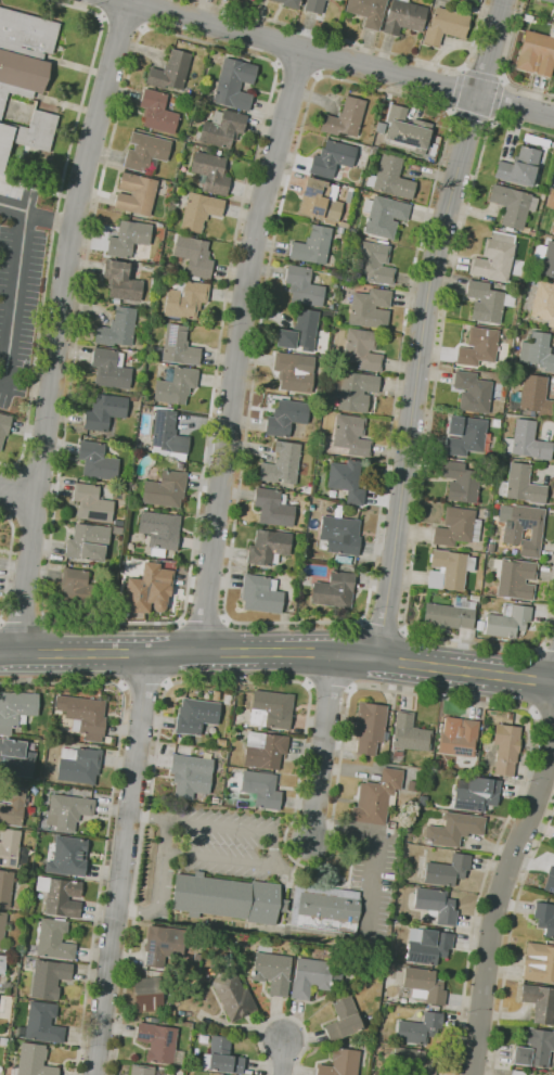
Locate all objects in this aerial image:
building: (338, 0)
building: (550, 1)
building: (288, 3)
building: (456, 3)
building: (312, 5)
building: (368, 11)
building: (553, 14)
building: (403, 17)
building: (527, 18)
road: (123, 23)
building: (445, 25)
road: (362, 44)
road: (490, 48)
building: (23, 53)
building: (536, 53)
road: (335, 59)
road: (505, 64)
building: (169, 72)
road: (482, 76)
building: (233, 85)
road: (456, 90)
road: (497, 99)
road: (433, 104)
building: (156, 112)
road: (471, 115)
building: (344, 118)
building: (221, 128)
building: (405, 131)
building: (27, 133)
building: (188, 139)
building: (536, 141)
building: (145, 152)
building: (332, 158)
building: (518, 167)
building: (209, 174)
building: (390, 178)
building: (134, 194)
building: (348, 196)
building: (550, 199)
building: (320, 202)
building: (512, 206)
building: (198, 212)
road: (36, 216)
building: (383, 216)
road: (55, 220)
building: (343, 225)
building: (553, 228)
building: (127, 239)
building: (370, 240)
building: (312, 246)
building: (193, 257)
building: (494, 257)
building: (545, 258)
building: (374, 263)
building: (120, 282)
building: (302, 286)
parking lot: (18, 289)
road: (16, 297)
building: (184, 300)
building: (486, 302)
building: (543, 303)
building: (370, 308)
road: (57, 325)
building: (117, 329)
building: (300, 333)
building: (175, 347)
building: (477, 347)
road: (239, 348)
building: (361, 349)
building: (537, 351)
building: (514, 364)
building: (349, 366)
building: (109, 369)
building: (291, 374)
road: (415, 375)
road: (24, 385)
building: (175, 385)
building: (352, 391)
building: (472, 392)
building: (532, 397)
building: (104, 412)
building: (286, 418)
building: (3, 426)
building: (167, 435)
building: (350, 435)
building: (464, 435)
road: (427, 441)
building: (527, 441)
building: (95, 461)
building: (281, 463)
building: (179, 465)
building: (346, 479)
building: (460, 482)
building: (520, 485)
building: (164, 489)
road: (18, 491)
building: (90, 503)
building: (272, 508)
building: (310, 508)
building: (356, 511)
building: (456, 527)
building: (521, 528)
building: (116, 530)
building: (158, 532)
building: (339, 535)
building: (87, 542)
building: (268, 548)
building: (342, 560)
road: (9, 563)
building: (88, 566)
building: (449, 570)
building: (514, 578)
building: (79, 588)
building: (147, 590)
building: (334, 590)
building: (260, 594)
building: (473, 598)
building: (450, 614)
road: (163, 620)
building: (507, 622)
road: (384, 624)
road: (547, 648)
road: (278, 652)
road: (144, 684)
building: (226, 700)
building: (16, 709)
building: (270, 709)
building: (82, 714)
road: (543, 714)
building: (195, 716)
building: (508, 716)
building: (369, 727)
building: (410, 734)
building: (458, 737)
building: (179, 741)
road: (322, 748)
building: (505, 748)
building: (263, 750)
building: (13, 758)
building: (78, 765)
building: (436, 766)
building: (191, 775)
building: (261, 789)
building: (475, 794)
building: (376, 797)
building: (215, 799)
building: (12, 805)
building: (67, 811)
road: (108, 819)
building: (453, 829)
road: (378, 843)
building: (12, 848)
building: (67, 856)
road: (121, 863)
road: (319, 863)
building: (447, 870)
building: (550, 880)
building: (5, 888)
building: (60, 896)
road: (500, 897)
building: (228, 898)
building: (435, 905)
building: (325, 908)
building: (544, 919)
building: (2, 927)
road: (511, 936)
building: (53, 940)
building: (163, 944)
building: (427, 945)
building: (196, 957)
building: (2, 963)
building: (539, 963)
building: (390, 967)
building: (272, 972)
building: (312, 976)
building: (48, 977)
building: (423, 985)
building: (150, 994)
building: (232, 996)
building: (539, 1002)
building: (434, 1007)
road: (283, 1015)
building: (154, 1020)
building: (344, 1020)
building: (41, 1023)
building: (421, 1029)
building: (2, 1040)
building: (157, 1041)
building: (534, 1048)
road: (282, 1057)
building: (221, 1058)
building: (31, 1061)
building: (412, 1061)
building: (340, 1063)
building: (143, 1070)
building: (517, 1072)

